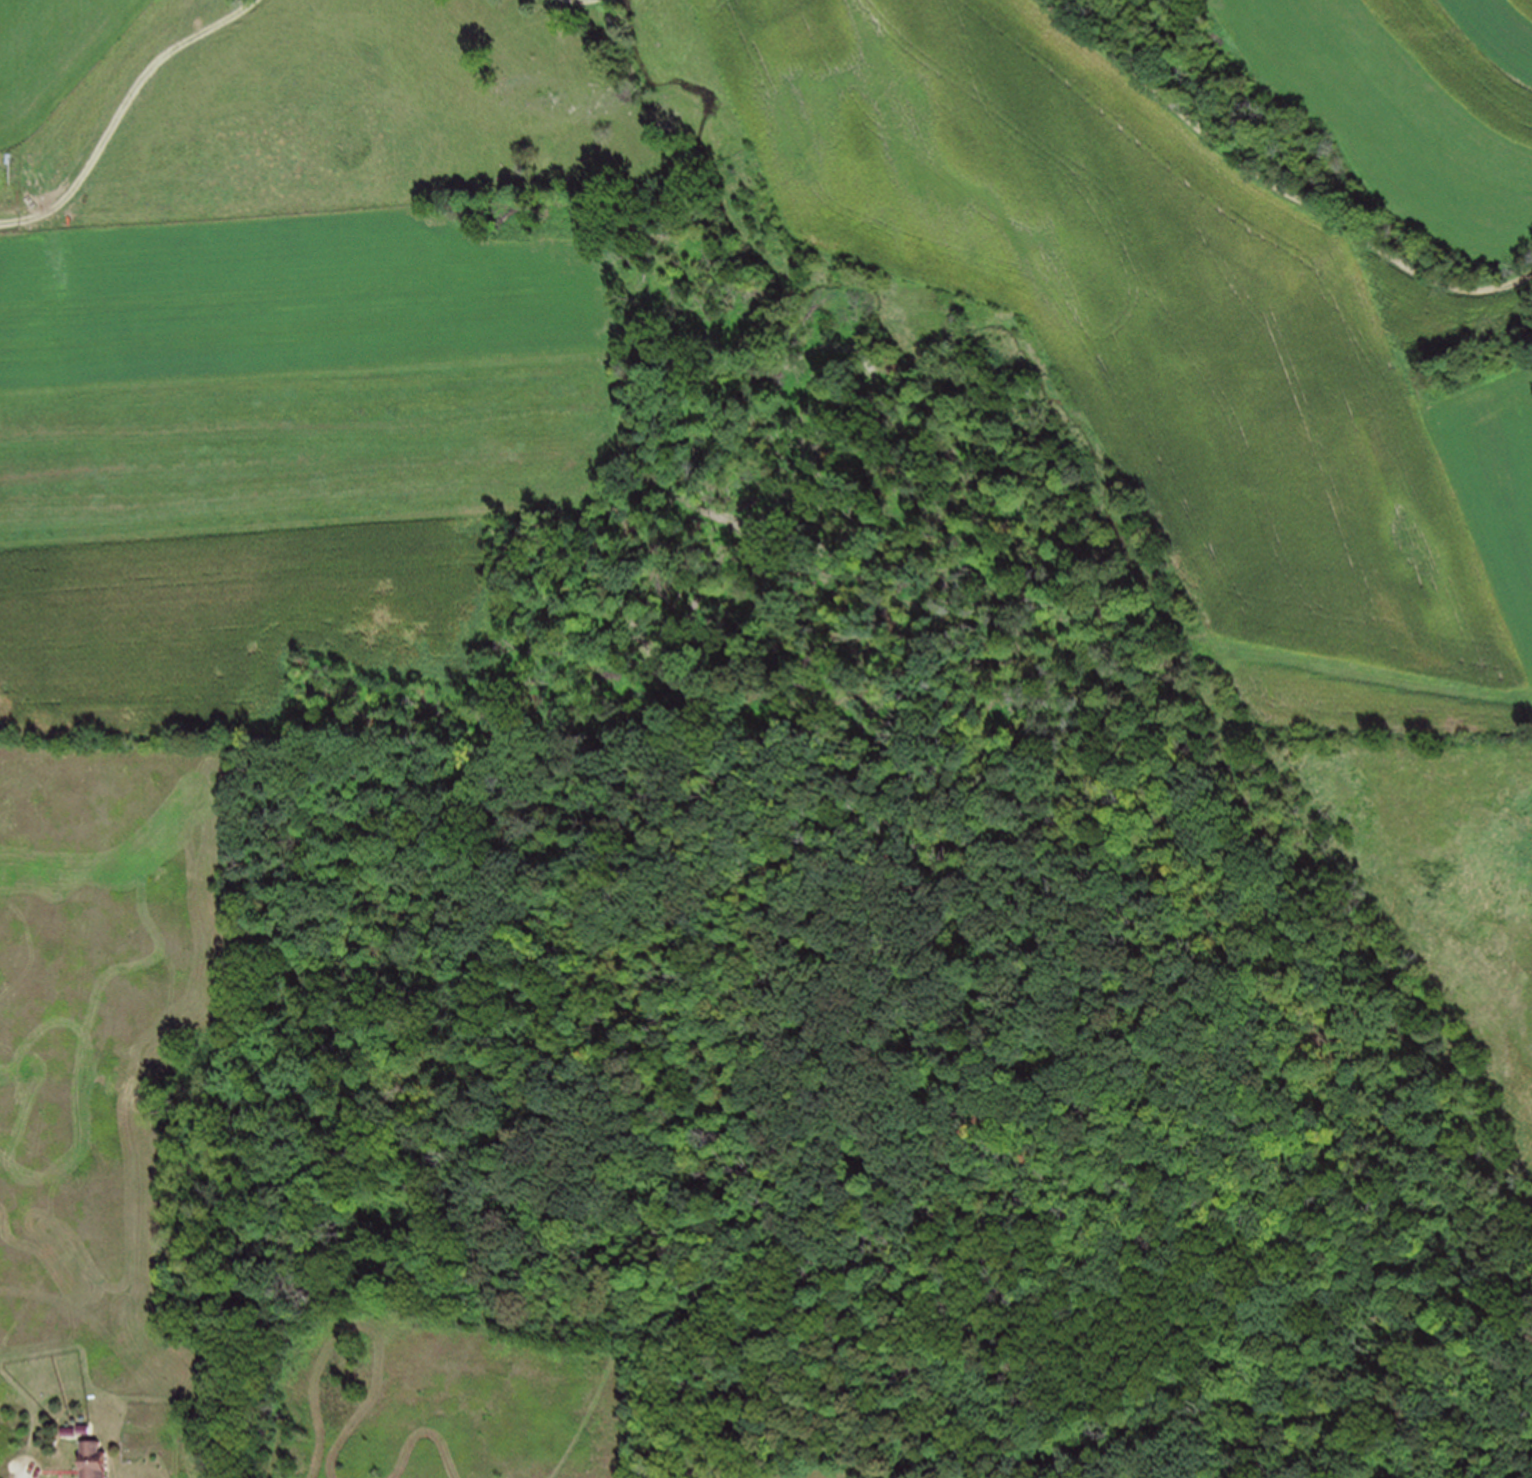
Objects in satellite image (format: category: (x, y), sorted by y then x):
road: (132, 113)
road: (1277, 177)
building: (97, 1465)

